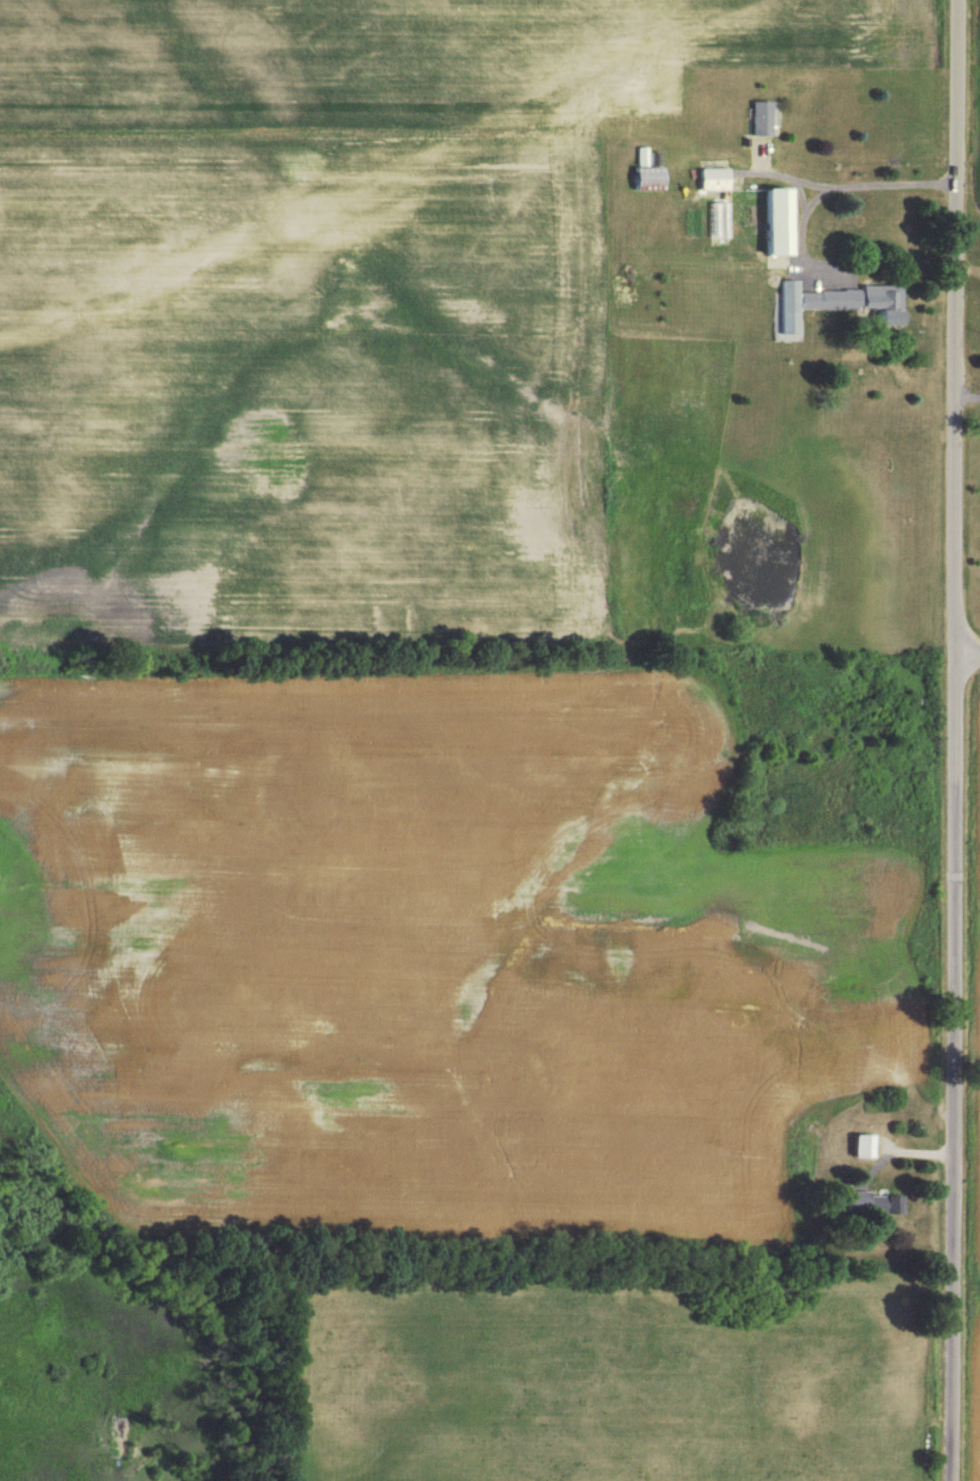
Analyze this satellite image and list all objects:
building: (766, 118)
building: (651, 170)
building: (717, 178)
building: (781, 222)
building: (833, 302)
road: (966, 650)
road: (952, 740)
building: (857, 1145)
building: (874, 1202)

